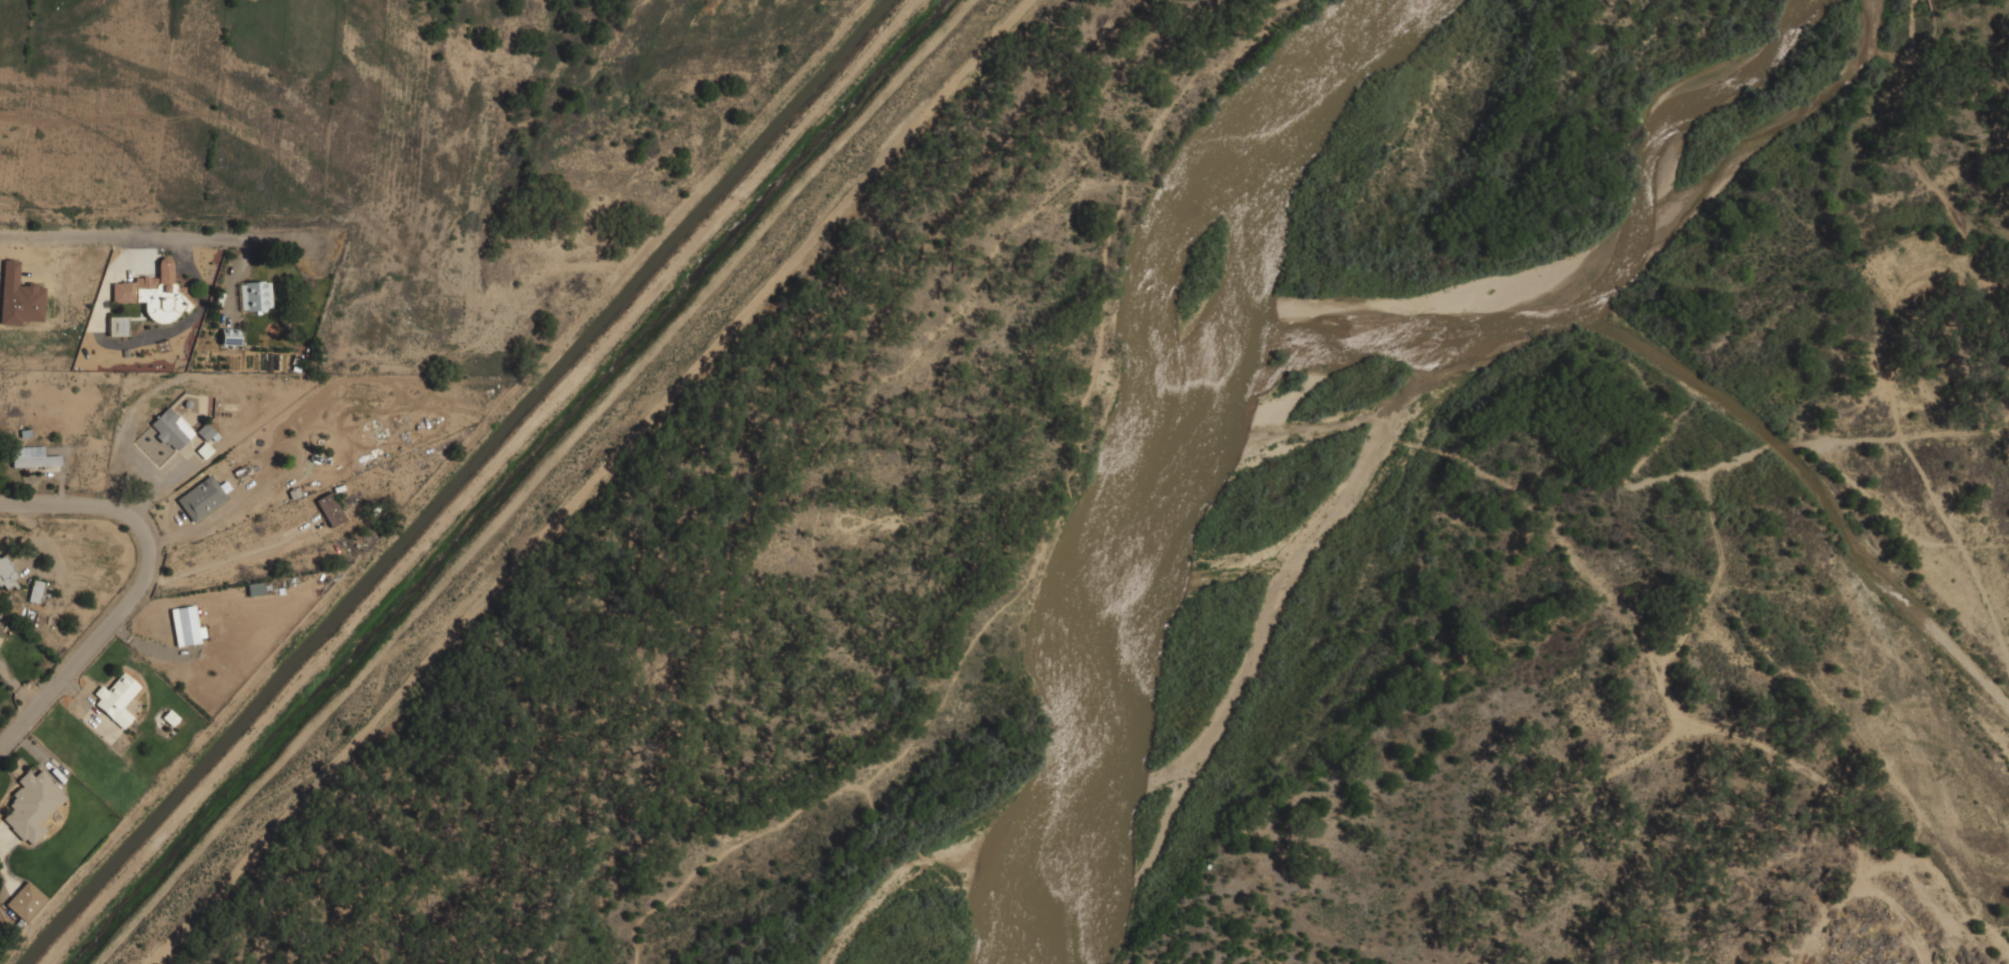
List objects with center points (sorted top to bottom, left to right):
road: (1910, 107)
road: (1948, 220)
road: (157, 238)
building: (165, 271)
river: (1596, 271)
road: (105, 280)
building: (146, 281)
road: (1980, 288)
building: (255, 295)
building: (19, 297)
building: (154, 299)
road: (137, 318)
road: (185, 322)
building: (117, 325)
building: (236, 338)
building: (162, 345)
building: (117, 352)
building: (125, 352)
building: (172, 428)
building: (206, 431)
building: (204, 450)
building: (33, 457)
river: (1199, 479)
building: (201, 498)
building: (330, 509)
building: (8, 575)
road: (137, 587)
building: (255, 588)
building: (36, 591)
building: (186, 625)
building: (117, 699)
building: (171, 717)
building: (33, 805)
building: (26, 901)

